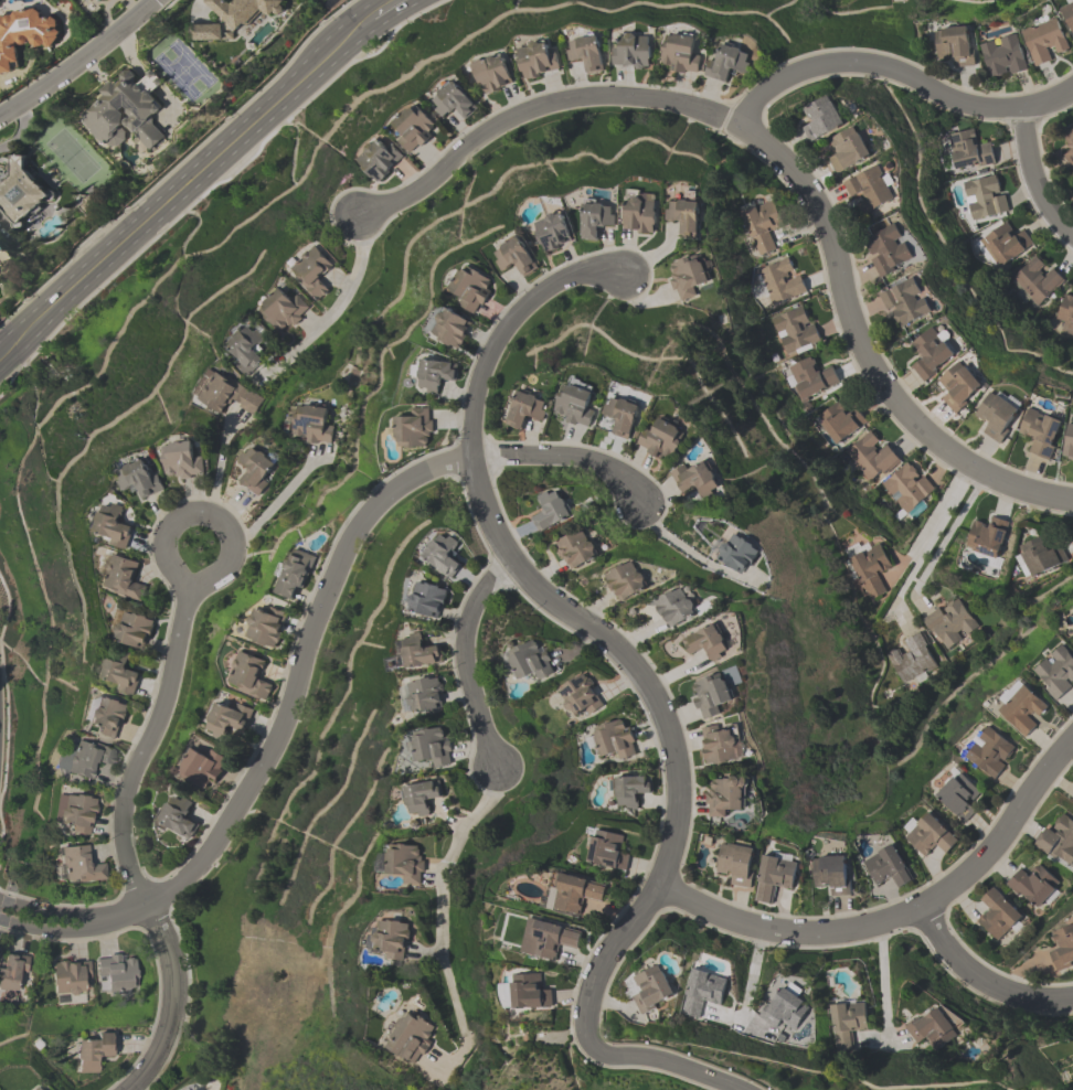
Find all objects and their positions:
building: (97, 2)
road: (383, 8)
building: (245, 11)
building: (1067, 12)
building: (209, 33)
building: (23, 36)
building: (1045, 42)
building: (954, 45)
building: (633, 51)
building: (587, 53)
building: (680, 54)
building: (1003, 56)
road: (76, 58)
building: (538, 61)
building: (730, 63)
road: (897, 71)
building: (493, 74)
building: (454, 103)
building: (125, 113)
building: (822, 118)
building: (415, 128)
building: (1069, 148)
building: (848, 150)
building: (968, 151)
building: (381, 159)
road: (782, 162)
road: (1032, 178)
road: (184, 186)
building: (869, 191)
building: (21, 192)
building: (985, 196)
building: (640, 212)
building: (684, 216)
building: (595, 218)
building: (762, 227)
building: (553, 231)
building: (1002, 245)
building: (888, 250)
building: (514, 258)
building: (312, 272)
building: (687, 277)
building: (1037, 279)
building: (780, 282)
building: (471, 288)
building: (904, 302)
building: (284, 310)
road: (332, 311)
building: (1065, 312)
building: (449, 327)
building: (795, 331)
building: (248, 349)
building: (932, 354)
building: (435, 375)
building: (810, 378)
building: (959, 386)
building: (226, 394)
building: (576, 403)
building: (527, 410)
building: (998, 415)
building: (619, 420)
building: (840, 421)
building: (312, 425)
building: (414, 428)
building: (1041, 432)
building: (662, 440)
building: (1069, 445)
building: (871, 459)
building: (182, 461)
road: (219, 466)
building: (256, 470)
building: (139, 479)
building: (695, 479)
building: (906, 490)
road: (278, 496)
building: (550, 511)
road: (202, 512)
building: (115, 526)
road: (927, 528)
road: (948, 532)
building: (986, 537)
road: (679, 545)
building: (575, 547)
building: (739, 553)
building: (445, 555)
road: (907, 556)
building: (1039, 557)
building: (869, 568)
building: (295, 574)
building: (125, 578)
building: (627, 581)
building: (427, 599)
building: (677, 607)
building: (949, 623)
building: (267, 627)
building: (135, 630)
building: (707, 643)
road: (304, 651)
building: (418, 652)
road: (465, 659)
building: (912, 660)
building: (528, 661)
building: (121, 673)
building: (1055, 673)
building: (251, 676)
road: (640, 676)
building: (422, 695)
building: (711, 695)
building: (577, 696)
building: (1023, 709)
building: (109, 716)
building: (229, 719)
building: (613, 740)
building: (721, 744)
building: (431, 747)
building: (989, 752)
building: (88, 758)
building: (205, 769)
building: (631, 792)
building: (725, 795)
building: (958, 797)
building: (422, 799)
building: (79, 813)
building: (180, 816)
road: (1003, 830)
building: (929, 834)
building: (1058, 841)
road: (124, 843)
building: (607, 851)
building: (404, 863)
building: (737, 864)
building: (81, 867)
building: (888, 867)
building: (832, 875)
building: (775, 876)
building: (1033, 886)
building: (573, 894)
building: (998, 916)
road: (439, 919)
road: (787, 932)
building: (549, 939)
building: (392, 940)
building: (1062, 948)
building: (13, 974)
building: (119, 974)
building: (71, 979)
road: (980, 980)
road: (883, 982)
road: (748, 987)
building: (651, 990)
building: (527, 992)
building: (702, 992)
building: (786, 1008)
building: (849, 1018)
building: (933, 1030)
building: (412, 1037)
building: (94, 1052)
building: (35, 1088)

